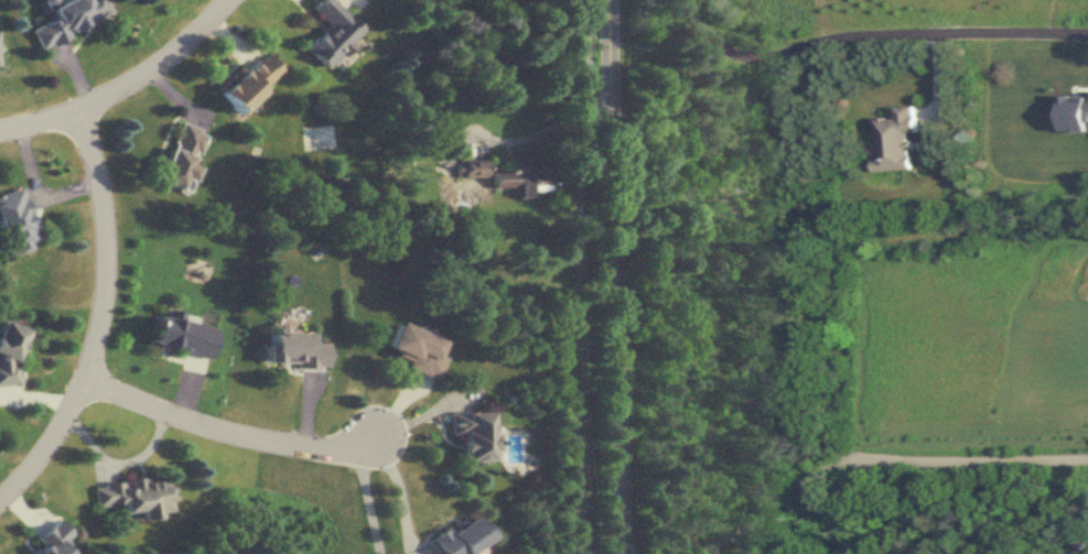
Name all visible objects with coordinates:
building: (68, 19)
building: (332, 33)
road: (868, 34)
road: (125, 80)
building: (250, 83)
road: (543, 128)
building: (898, 141)
building: (182, 157)
building: (472, 169)
building: (521, 181)
building: (14, 221)
road: (577, 276)
road: (610, 276)
road: (99, 308)
building: (182, 336)
building: (416, 349)
building: (295, 350)
building: (9, 355)
road: (226, 430)
building: (472, 434)
road: (877, 456)
road: (117, 461)
building: (132, 496)
road: (365, 499)
building: (460, 537)
building: (52, 539)

